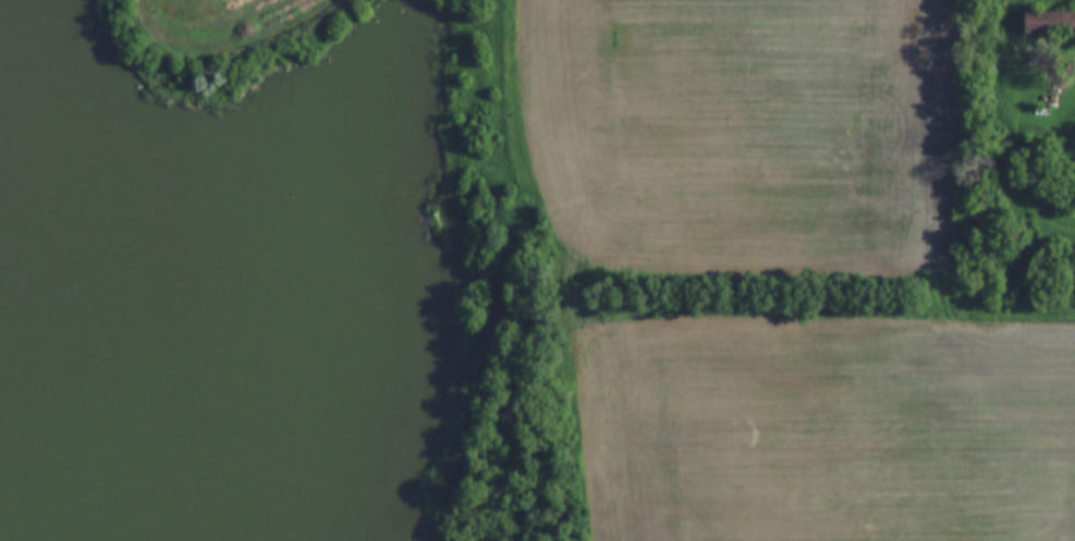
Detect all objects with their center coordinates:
building: (1049, 22)

